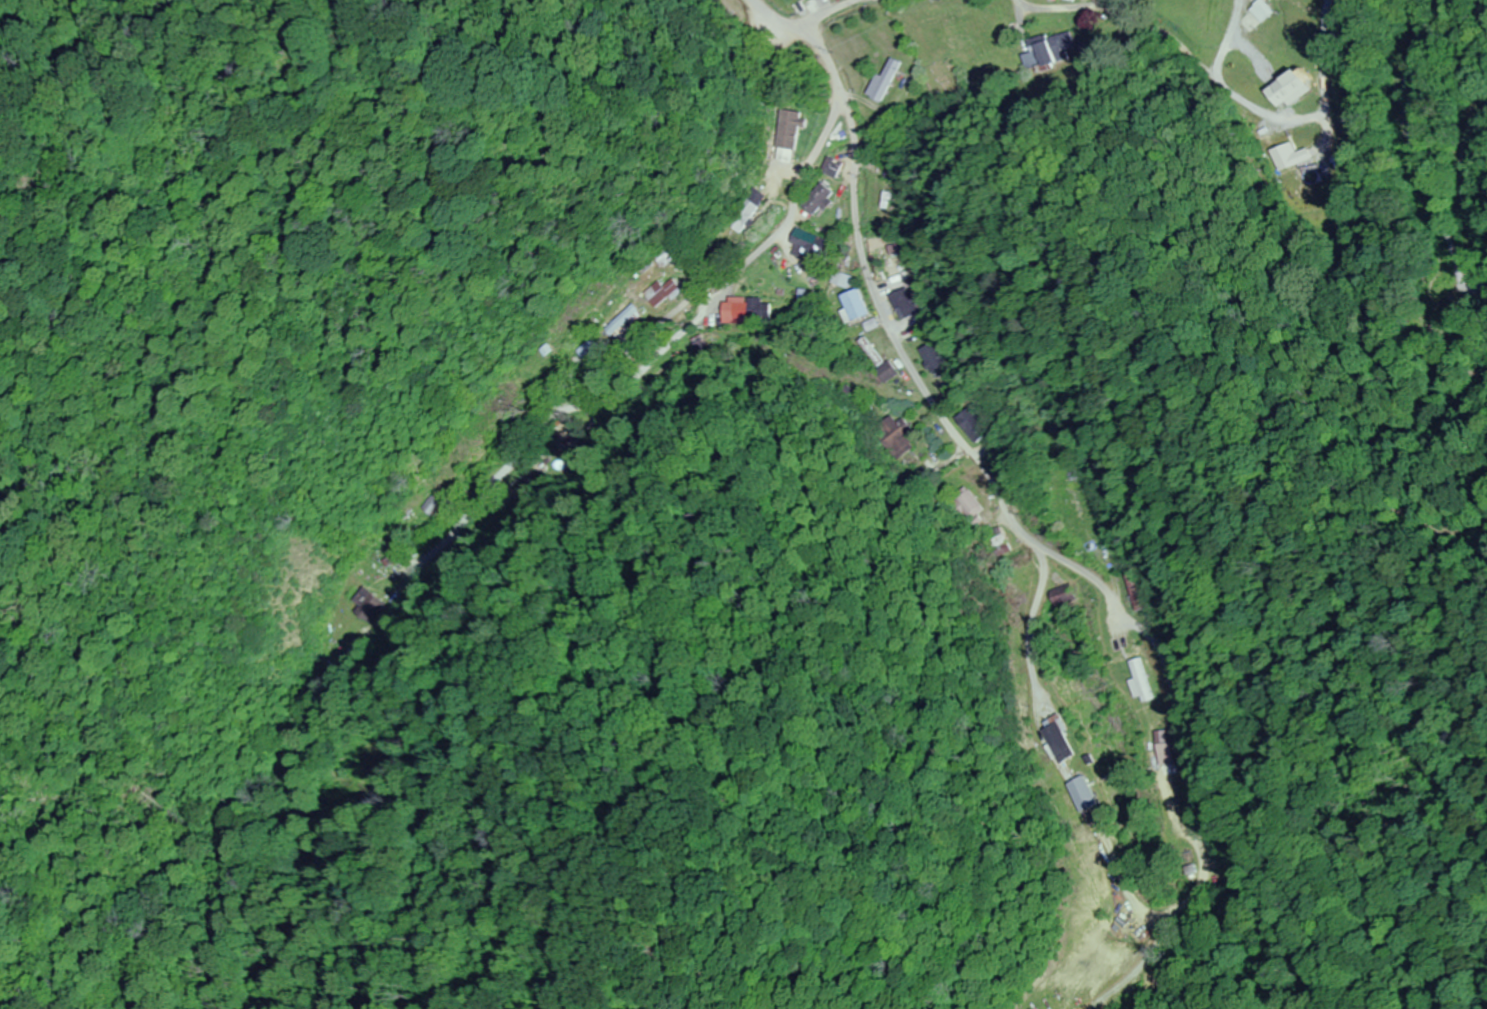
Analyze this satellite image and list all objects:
road: (1322, 9)
building: (1261, 11)
road: (826, 15)
building: (1053, 51)
road: (770, 62)
road: (1250, 68)
building: (884, 80)
building: (793, 130)
building: (834, 167)
building: (821, 199)
building: (747, 215)
building: (812, 247)
building: (670, 256)
road: (861, 258)
building: (663, 293)
road: (698, 301)
building: (906, 304)
building: (855, 305)
building: (800, 308)
building: (744, 311)
building: (621, 321)
building: (588, 349)
building: (935, 357)
building: (888, 371)
building: (976, 425)
road: (538, 430)
building: (898, 437)
building: (1077, 504)
building: (974, 506)
road: (1072, 551)
building: (1132, 587)
road: (1157, 623)
road: (1172, 637)
building: (1064, 740)
building: (1167, 747)
building: (1089, 794)

